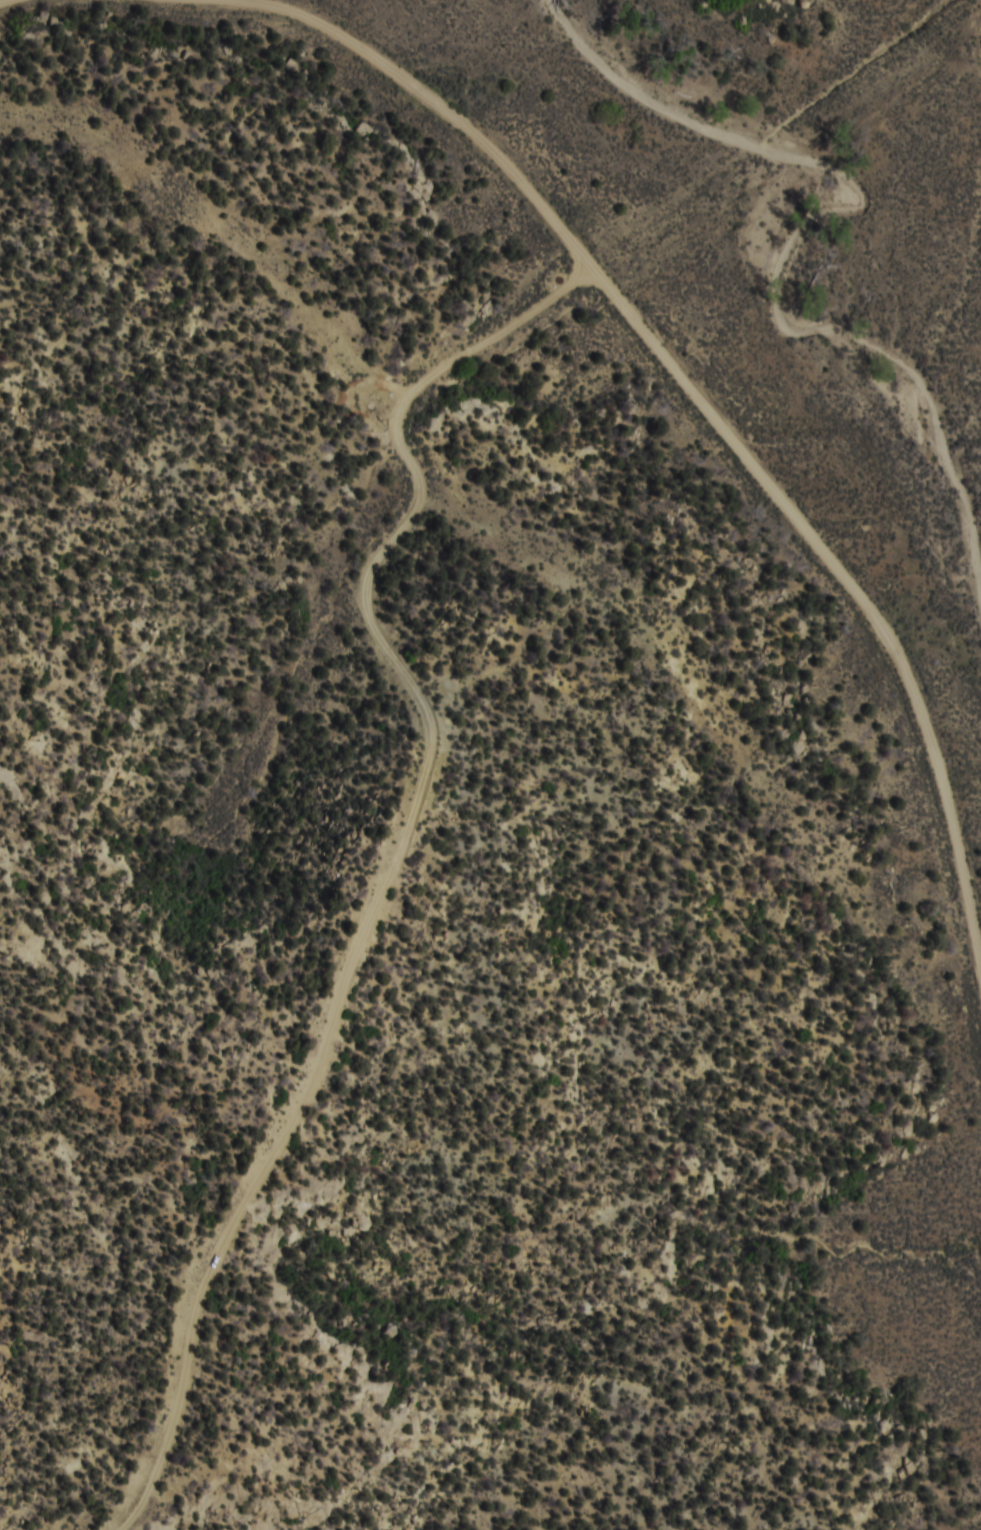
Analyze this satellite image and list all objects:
road: (366, 78)
road: (810, 214)
river: (781, 260)
road: (843, 636)
road: (149, 1492)

